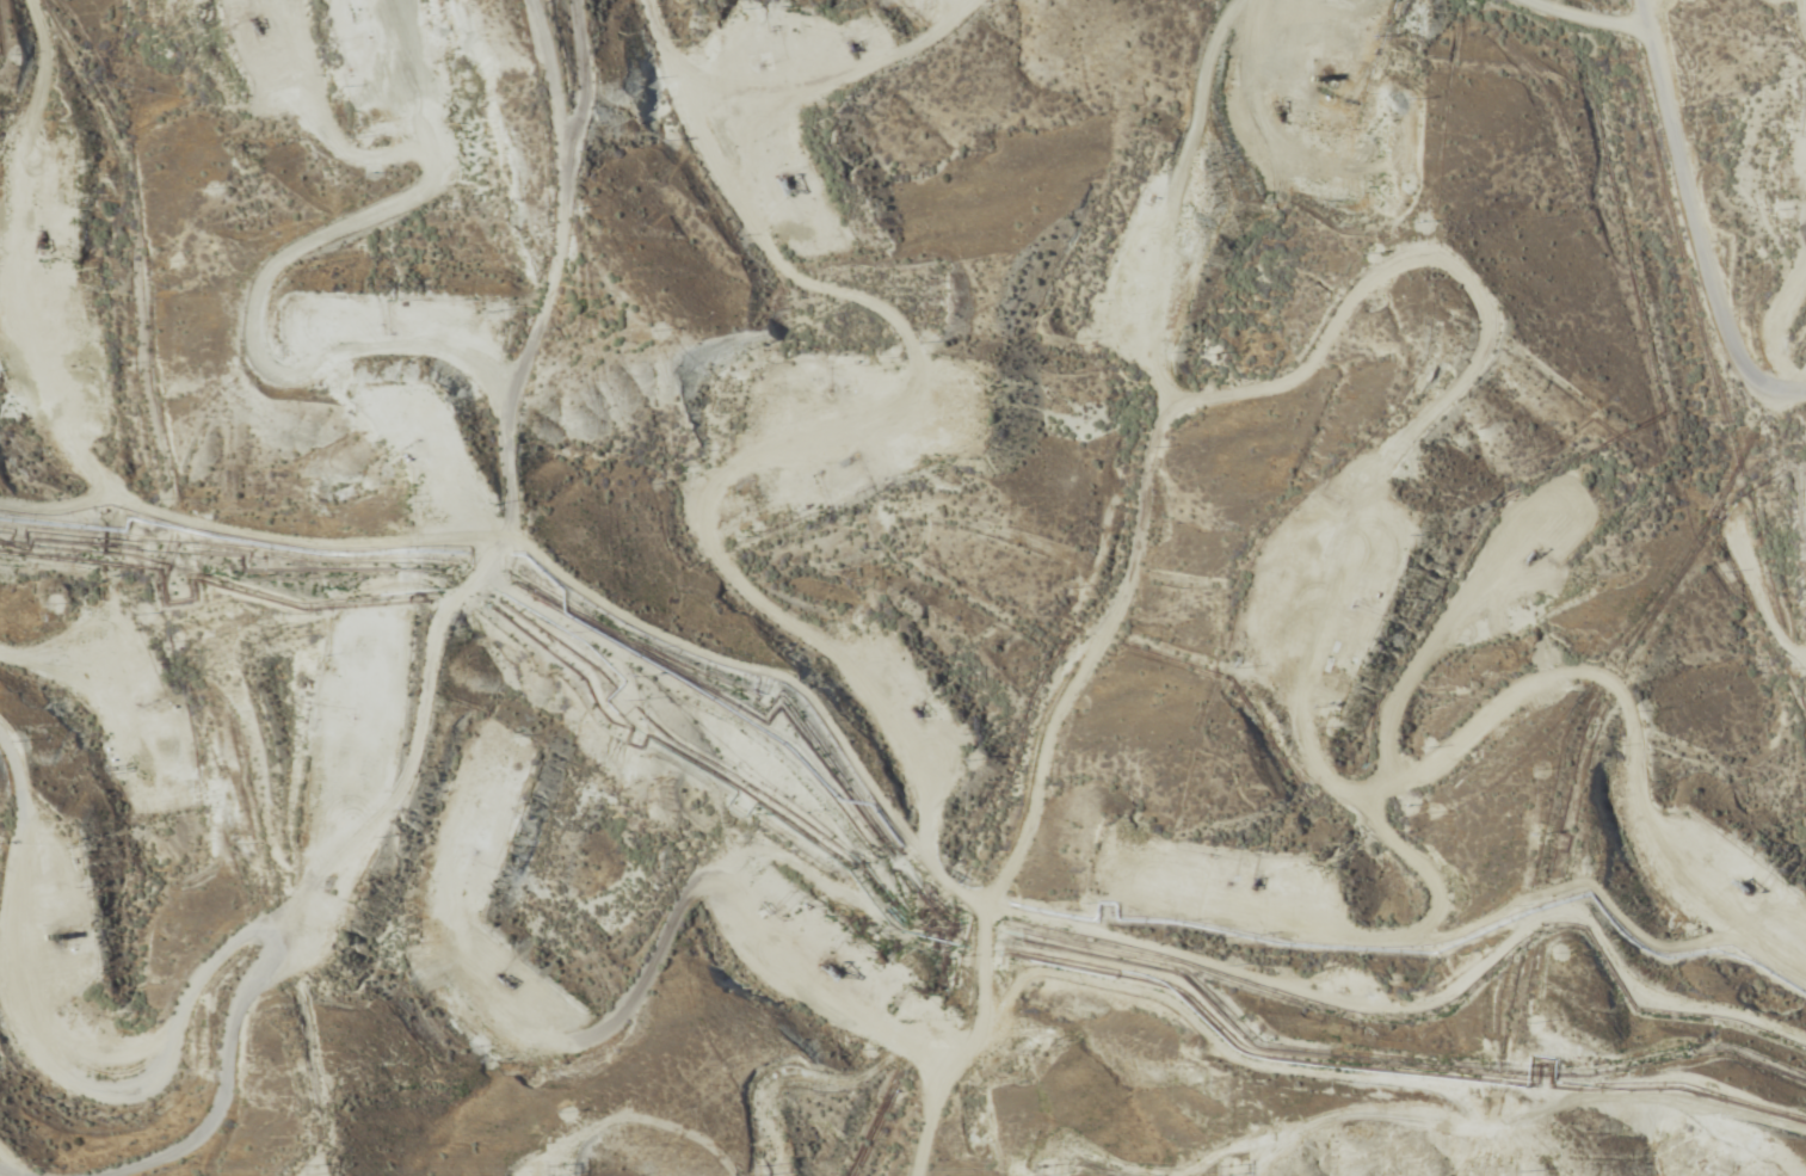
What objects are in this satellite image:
road: (1743, 217)
road: (901, 455)
road: (1244, 481)
road: (216, 532)
road: (399, 640)
road: (844, 1021)

